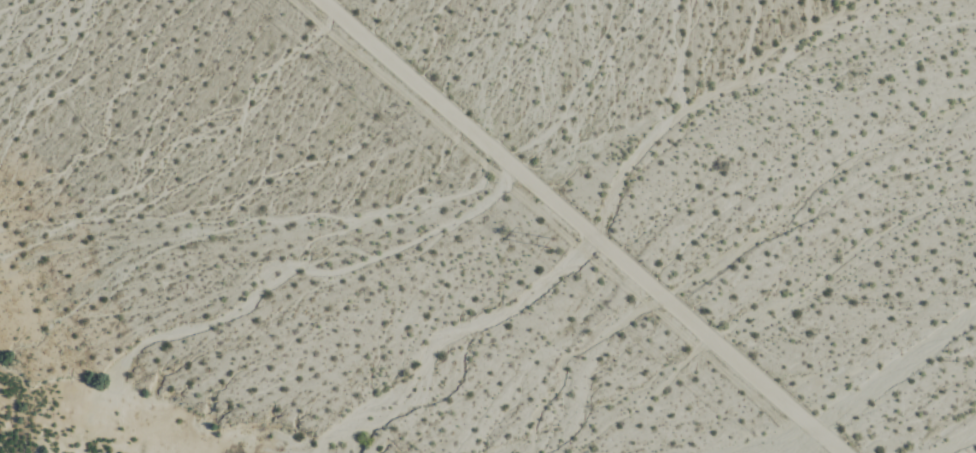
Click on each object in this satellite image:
road: (590, 226)
power tower: (554, 241)

